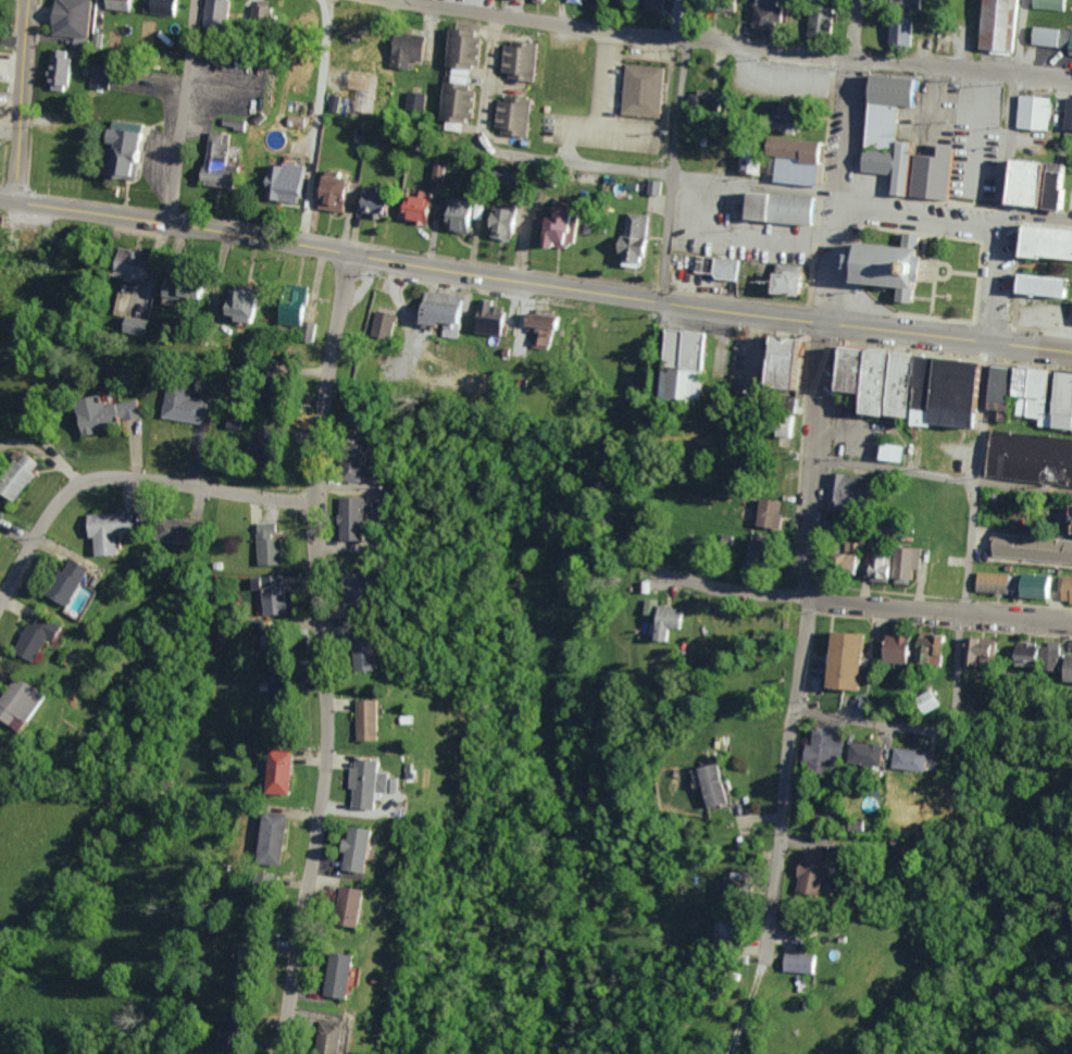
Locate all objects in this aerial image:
building: (579, 1)
building: (117, 4)
building: (651, 4)
building: (722, 4)
building: (1051, 4)
building: (157, 5)
building: (906, 5)
building: (219, 12)
building: (255, 12)
building: (764, 13)
building: (73, 18)
road: (687, 18)
building: (817, 18)
building: (995, 25)
road: (853, 28)
road: (615, 30)
building: (900, 30)
road: (1019, 36)
building: (1052, 37)
building: (364, 45)
building: (461, 47)
building: (404, 49)
building: (0, 52)
building: (515, 59)
building: (562, 64)
road: (933, 64)
building: (52, 70)
road: (1044, 75)
building: (94, 76)
road: (487, 83)
building: (640, 84)
building: (893, 89)
building: (699, 98)
road: (18, 100)
building: (414, 101)
building: (451, 101)
road: (180, 111)
building: (1036, 112)
building: (510, 114)
building: (1070, 117)
road: (315, 123)
building: (776, 123)
road: (844, 124)
building: (880, 138)
road: (1008, 140)
building: (119, 152)
building: (796, 159)
building: (210, 161)
building: (903, 168)
road: (671, 169)
road: (658, 171)
building: (440, 172)
building: (935, 174)
building: (333, 179)
building: (278, 181)
building: (1013, 182)
building: (1033, 184)
building: (1059, 186)
building: (652, 187)
building: (341, 193)
building: (1070, 200)
building: (327, 201)
building: (383, 201)
building: (366, 202)
building: (427, 204)
building: (406, 207)
building: (785, 209)
road: (1036, 212)
building: (449, 214)
road: (918, 218)
building: (493, 220)
building: (508, 221)
building: (554, 230)
building: (633, 231)
building: (1048, 243)
road: (832, 256)
building: (133, 260)
building: (897, 265)
building: (723, 266)
road: (151, 268)
flagpole: (943, 269)
road: (993, 274)
building: (790, 281)
road: (535, 282)
building: (1042, 285)
building: (194, 286)
building: (233, 302)
building: (253, 305)
building: (284, 305)
building: (431, 306)
building: (304, 310)
building: (450, 311)
building: (478, 315)
building: (493, 318)
building: (1071, 320)
building: (373, 322)
building: (130, 323)
building: (388, 324)
building: (537, 327)
building: (785, 361)
building: (681, 364)
building: (853, 368)
building: (876, 381)
building: (900, 383)
building: (992, 387)
building: (921, 388)
building: (1005, 389)
building: (961, 390)
building: (1034, 394)
building: (1061, 401)
building: (177, 405)
building: (89, 410)
building: (114, 413)
building: (238, 422)
building: (782, 429)
building: (274, 437)
building: (887, 451)
building: (1033, 457)
building: (341, 462)
building: (11, 472)
road: (939, 473)
building: (24, 475)
road: (975, 476)
road: (125, 479)
building: (843, 487)
building: (765, 513)
building: (340, 518)
building: (361, 518)
building: (1068, 519)
building: (2, 520)
building: (98, 526)
building: (169, 529)
building: (116, 530)
building: (260, 544)
building: (274, 544)
building: (1032, 547)
building: (842, 559)
building: (902, 562)
building: (878, 566)
building: (997, 580)
building: (63, 584)
building: (346, 585)
building: (1033, 585)
building: (367, 588)
building: (1065, 590)
building: (263, 595)
road: (796, 596)
building: (661, 618)
road: (1017, 620)
building: (25, 633)
building: (40, 636)
road: (799, 640)
building: (278, 644)
building: (975, 652)
building: (350, 653)
road: (322, 654)
building: (898, 654)
building: (1023, 654)
building: (376, 656)
building: (1048, 657)
building: (846, 662)
building: (1064, 669)
building: (278, 697)
building: (13, 702)
building: (926, 706)
building: (394, 717)
building: (351, 719)
building: (373, 720)
road: (924, 729)
building: (864, 760)
building: (822, 761)
building: (912, 764)
building: (265, 771)
building: (283, 771)
building: (399, 771)
building: (707, 776)
building: (352, 782)
building: (373, 783)
parking lot: (747, 810)
building: (274, 834)
building: (364, 847)
building: (340, 848)
building: (811, 876)
building: (731, 881)
building: (271, 888)
building: (359, 904)
building: (334, 905)
building: (723, 938)
building: (826, 940)
building: (254, 964)
building: (799, 964)
building: (324, 972)
building: (349, 974)
building: (317, 1036)
building: (342, 1038)

